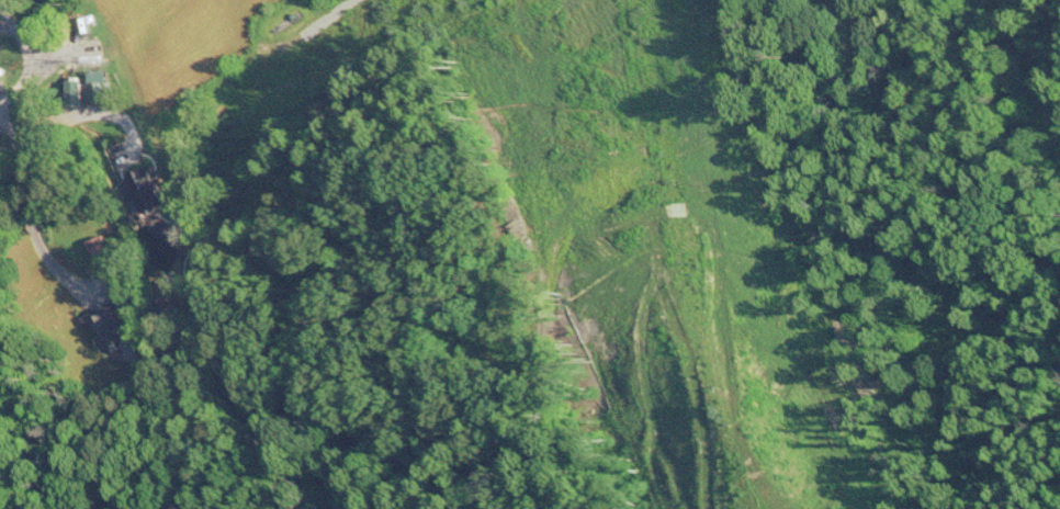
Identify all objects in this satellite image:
road: (26, 61)
road: (87, 112)
building: (148, 193)
road: (30, 217)
building: (105, 325)

